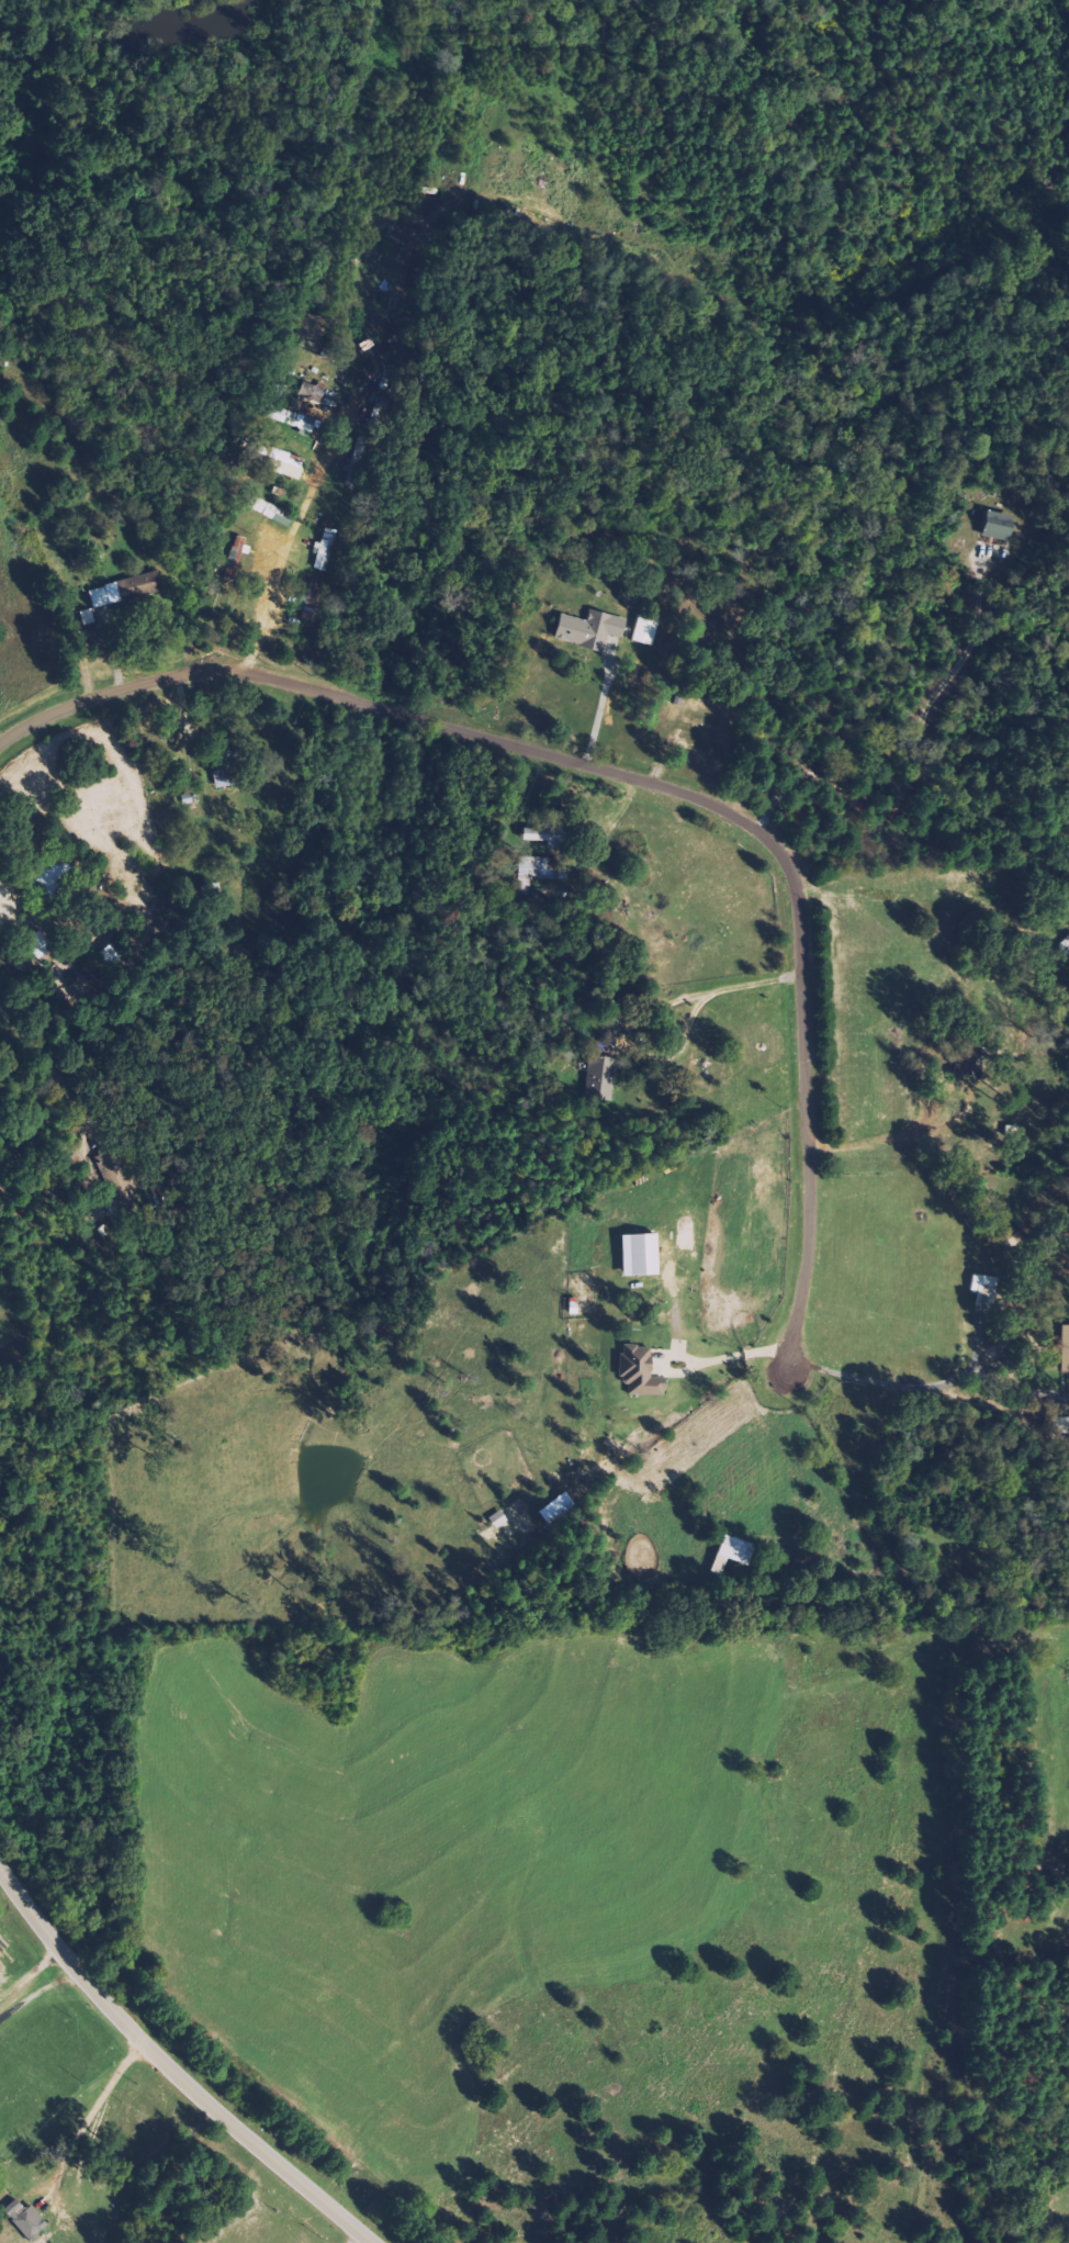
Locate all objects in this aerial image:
building: (313, 390)
building: (301, 422)
building: (284, 462)
building: (277, 514)
building: (1003, 526)
building: (238, 549)
building: (325, 551)
building: (148, 579)
building: (106, 595)
building: (592, 629)
building: (648, 629)
building: (226, 776)
road: (654, 784)
building: (537, 870)
building: (601, 1077)
building: (642, 1255)
building: (986, 1291)
building: (1066, 1336)
building: (641, 1371)
building: (1061, 1428)
building: (582, 1488)
building: (560, 1509)
building: (499, 1519)
building: (735, 1554)
road: (40, 1987)
road: (173, 2064)
building: (27, 2219)

